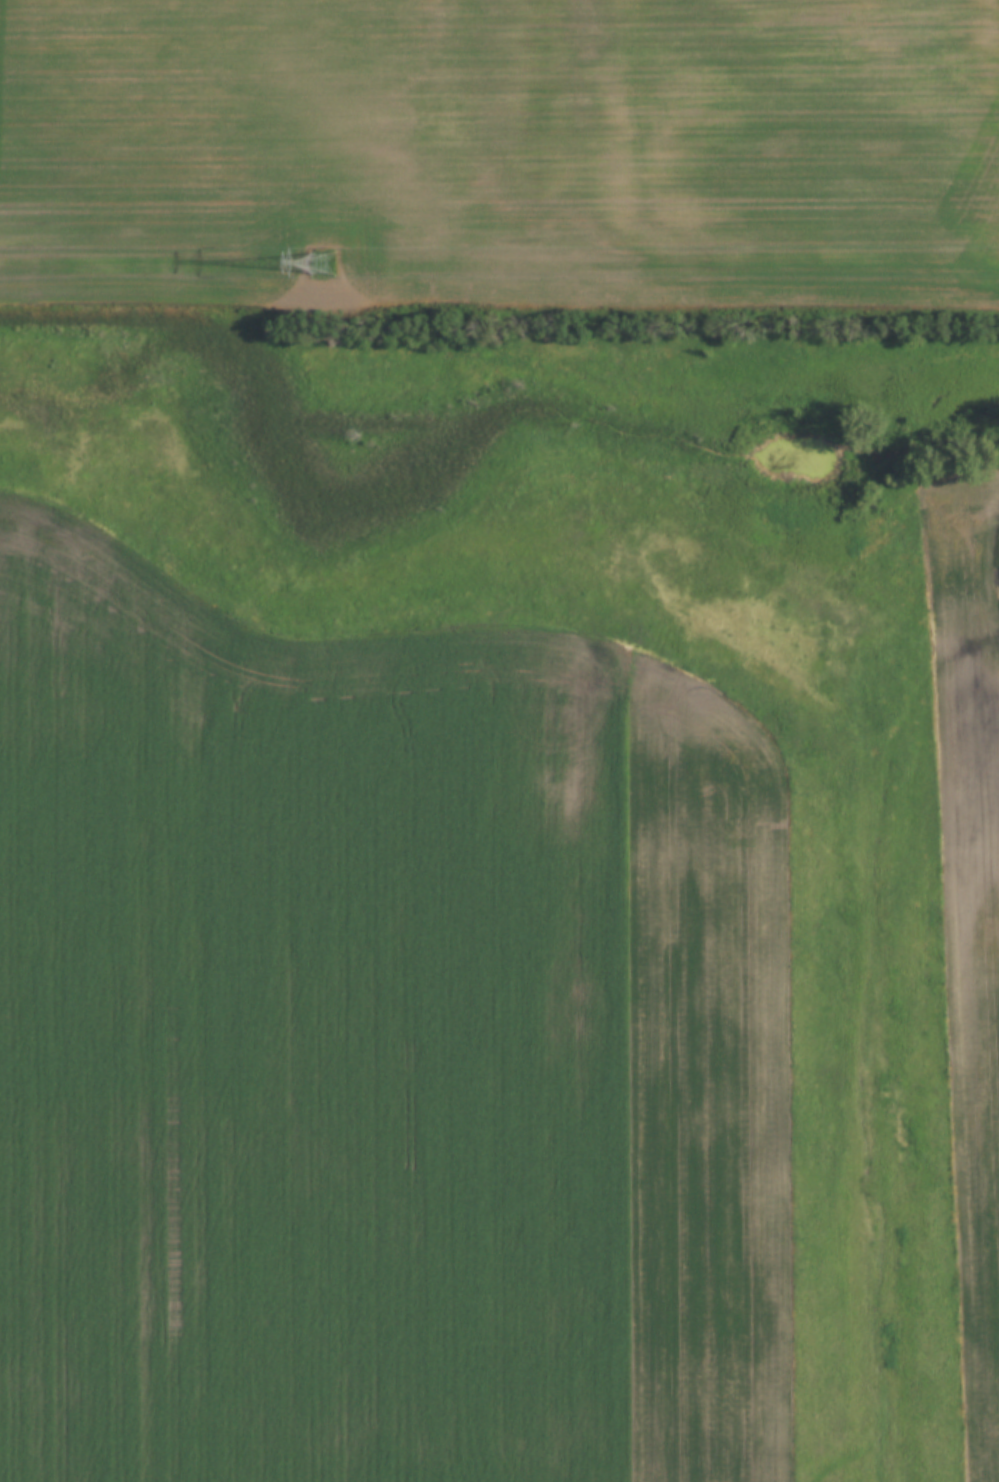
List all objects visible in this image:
power tower: (330, 269)

